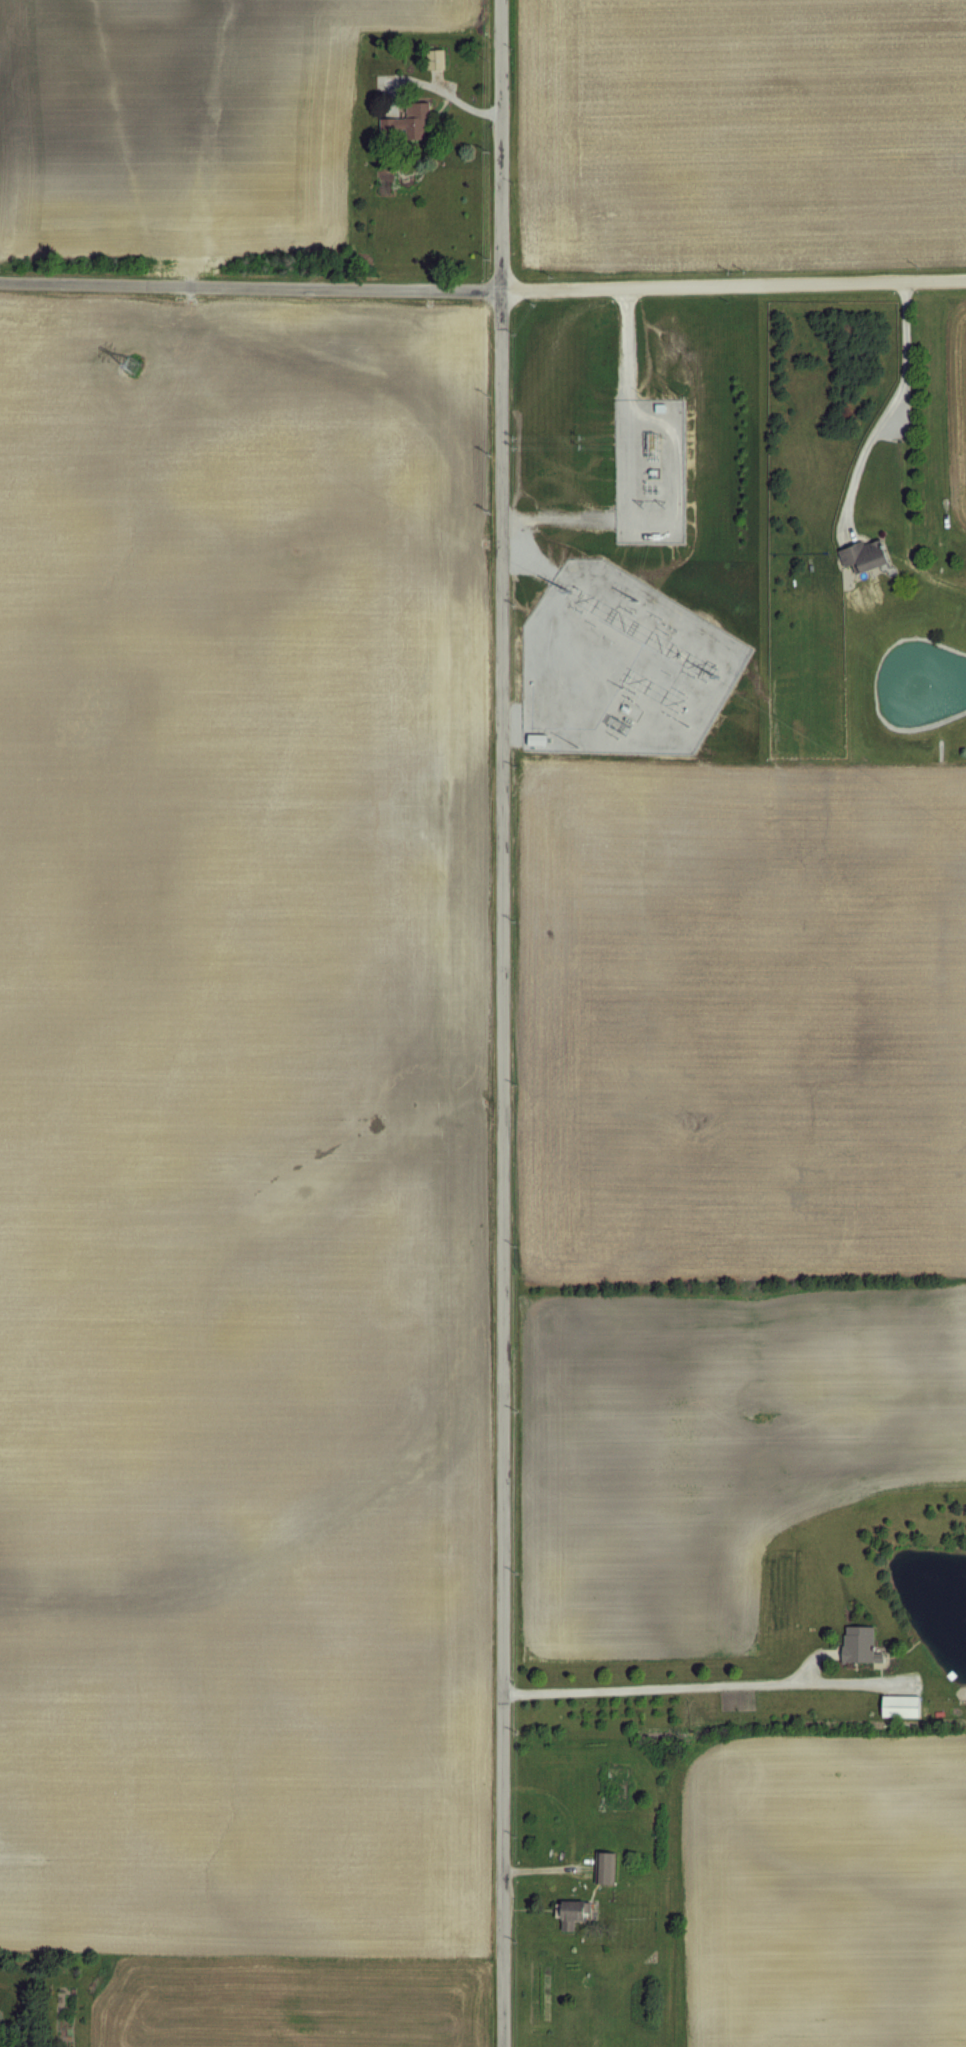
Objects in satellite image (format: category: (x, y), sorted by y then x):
building: (432, 58)
building: (396, 80)
building: (404, 122)
road: (483, 288)
power tower: (131, 366)
road: (895, 400)
power substation: (648, 471)
power tower: (655, 503)
building: (860, 554)
power tower: (571, 589)
power tower: (639, 598)
power substation: (617, 665)
power tower: (716, 675)
road: (498, 1023)
building: (857, 1642)
road: (685, 1684)
building: (898, 1704)
building: (602, 1866)
building: (568, 1913)

